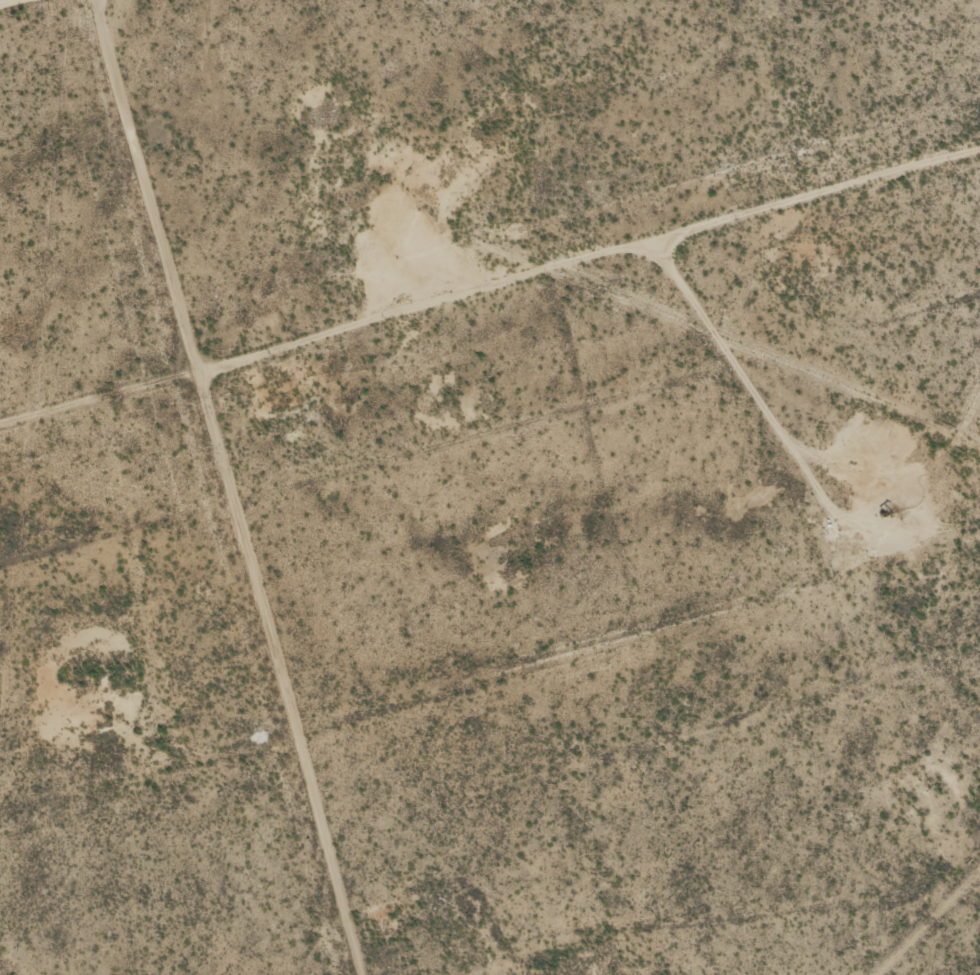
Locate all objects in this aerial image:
road: (23, 6)
road: (168, 489)

